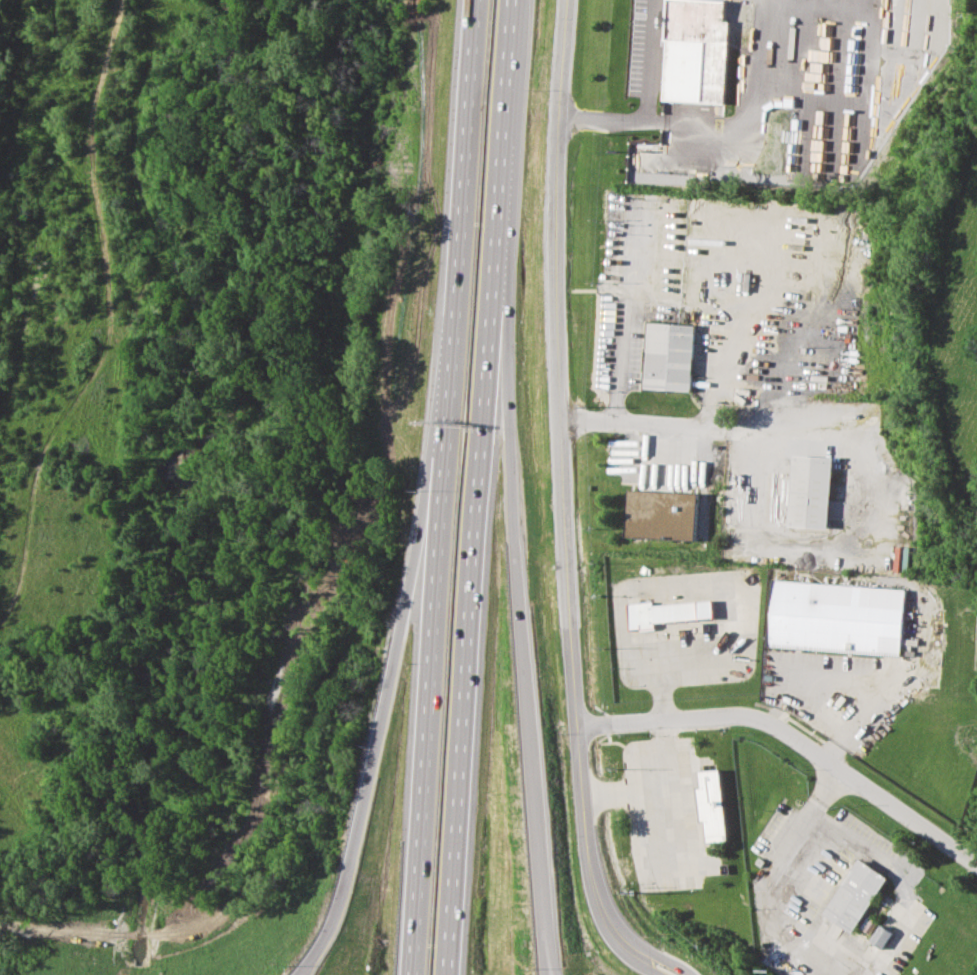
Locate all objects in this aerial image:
building: (694, 66)
street lamp: (525, 89)
road: (630, 96)
road: (497, 109)
street lamp: (519, 220)
street lamp: (514, 300)
road: (617, 352)
building: (668, 352)
street lamp: (414, 375)
street lamp: (512, 381)
river: (192, 393)
road: (636, 423)
road: (504, 472)
road: (556, 477)
road: (437, 487)
street lamp: (404, 488)
building: (807, 491)
building: (661, 515)
road: (852, 524)
road: (464, 596)
building: (664, 612)
building: (836, 617)
street lamp: (384, 618)
road: (390, 656)
road: (866, 716)
road: (792, 738)
road: (666, 791)
building: (712, 806)
road: (536, 842)
power tower: (623, 892)
building: (853, 896)
river: (135, 935)
building: (880, 936)
road: (885, 947)
river: (133, 955)
road: (652, 959)
road: (636, 960)
street lamp: (289, 965)
road: (547, 966)
road: (544, 967)
river: (132, 970)
road: (302, 970)
road: (305, 970)
street lamp: (530, 970)

